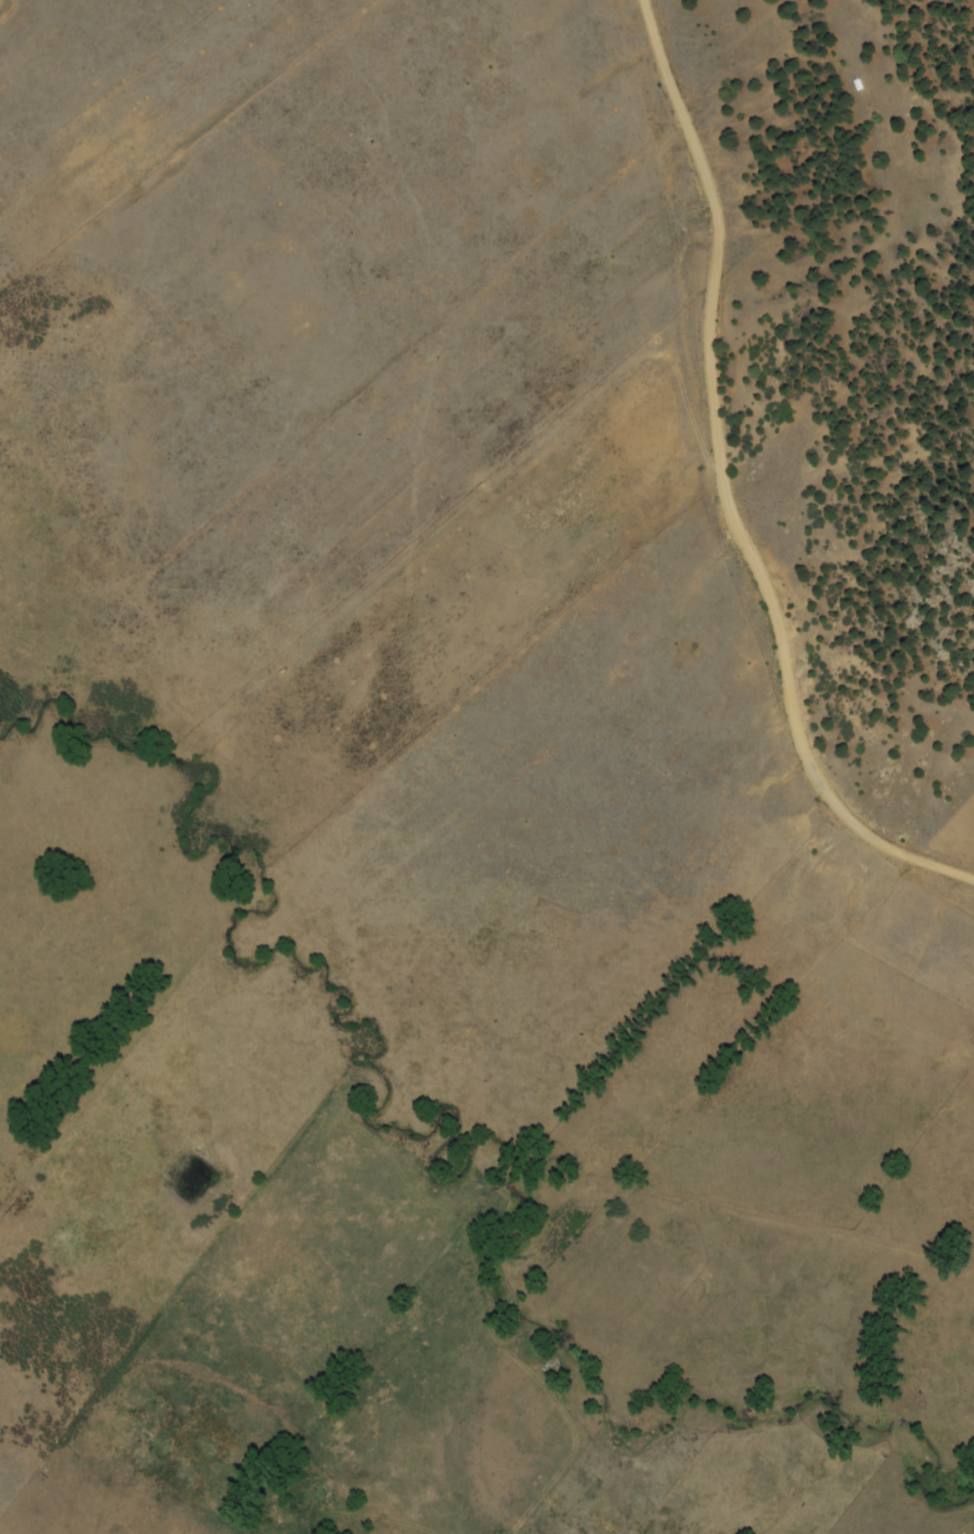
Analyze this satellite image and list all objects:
road: (721, 467)

